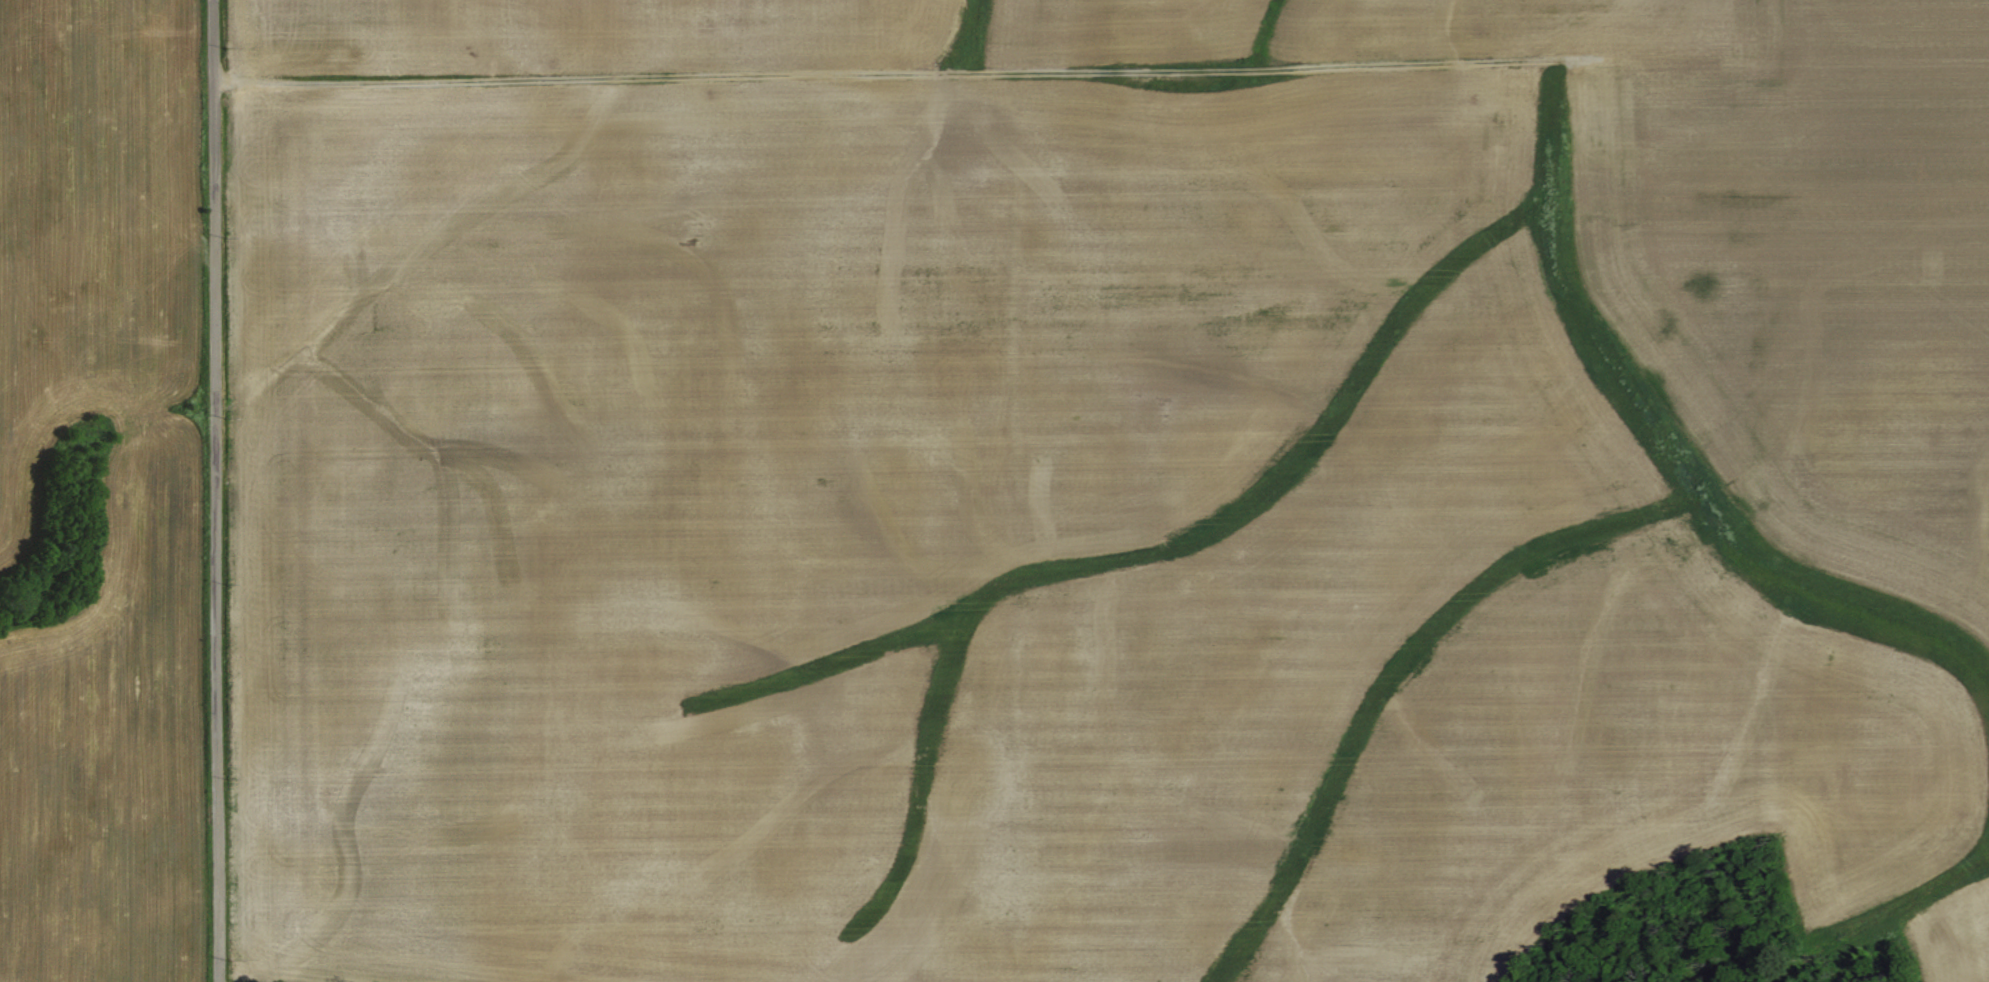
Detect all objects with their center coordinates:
road: (214, 491)

